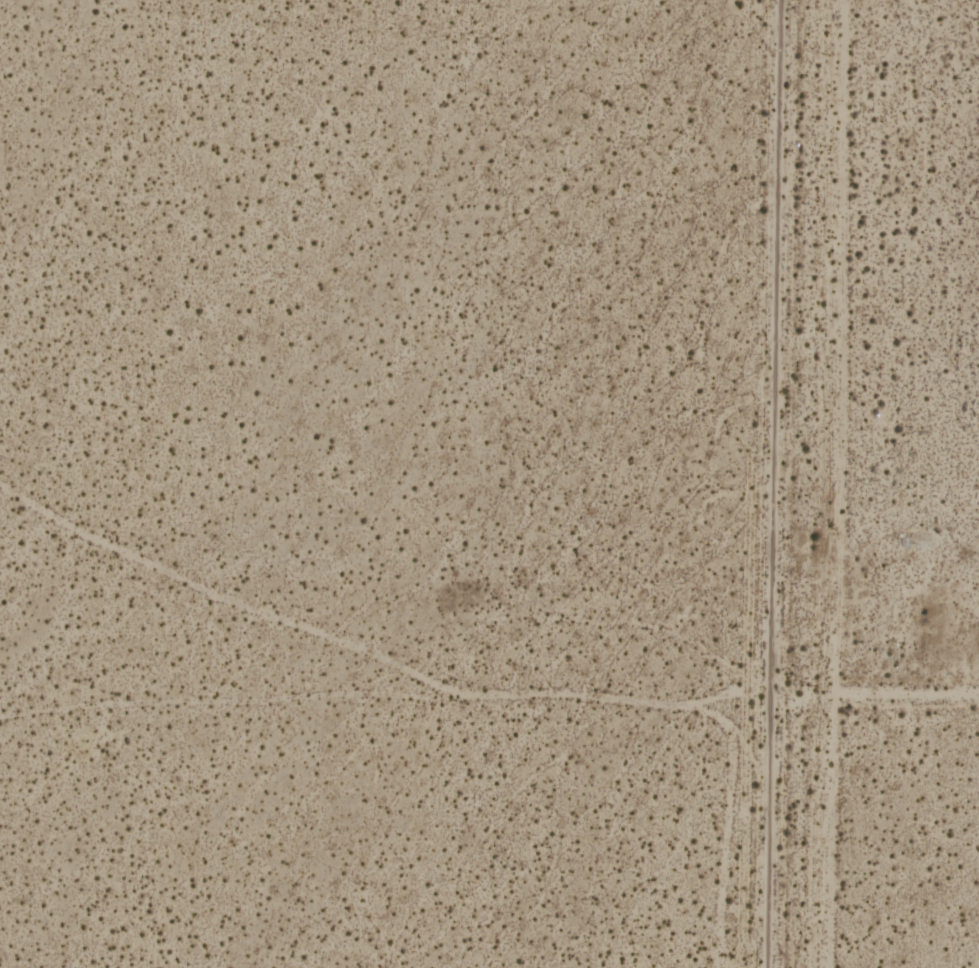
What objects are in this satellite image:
road: (776, 484)
airport: (924, 491)

